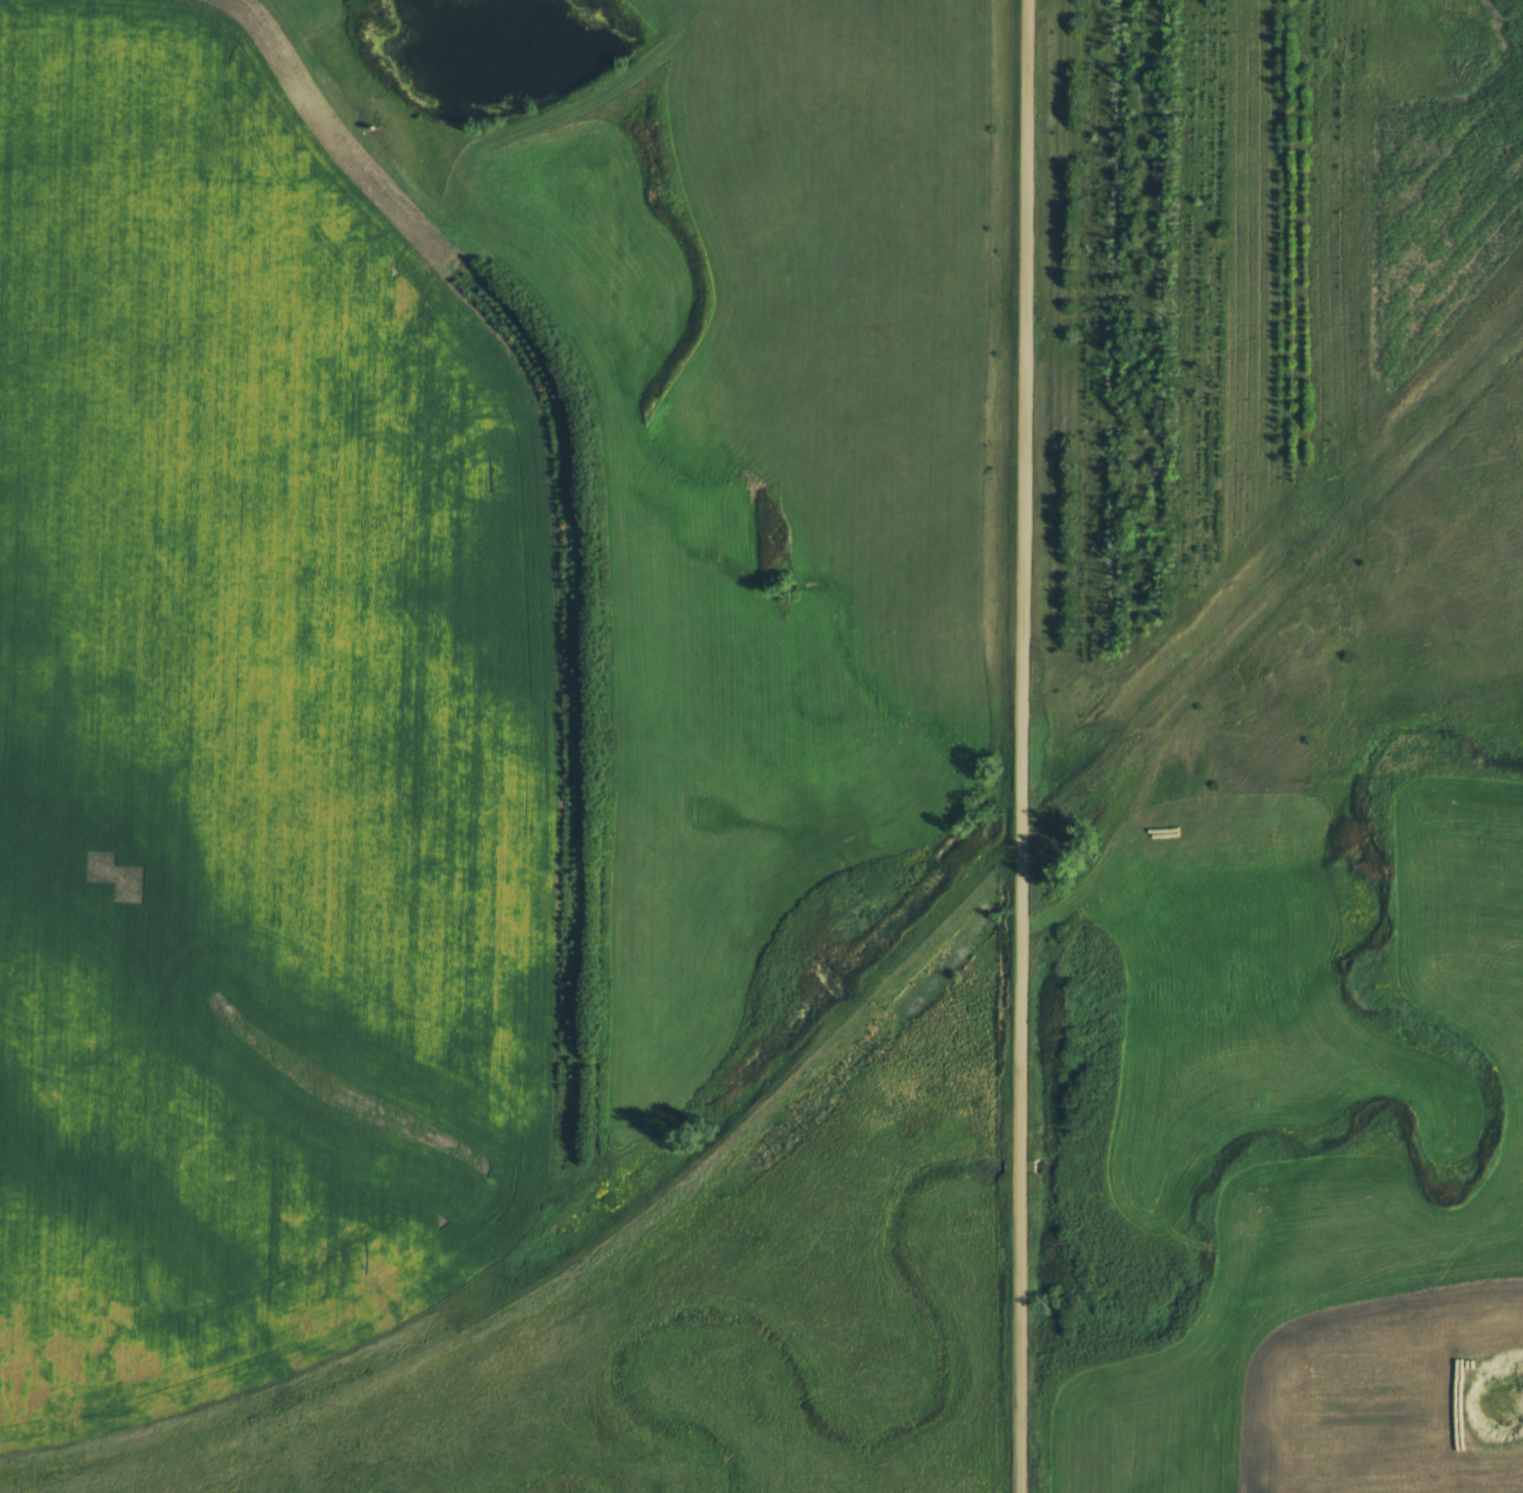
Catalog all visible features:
road: (1039, 746)

